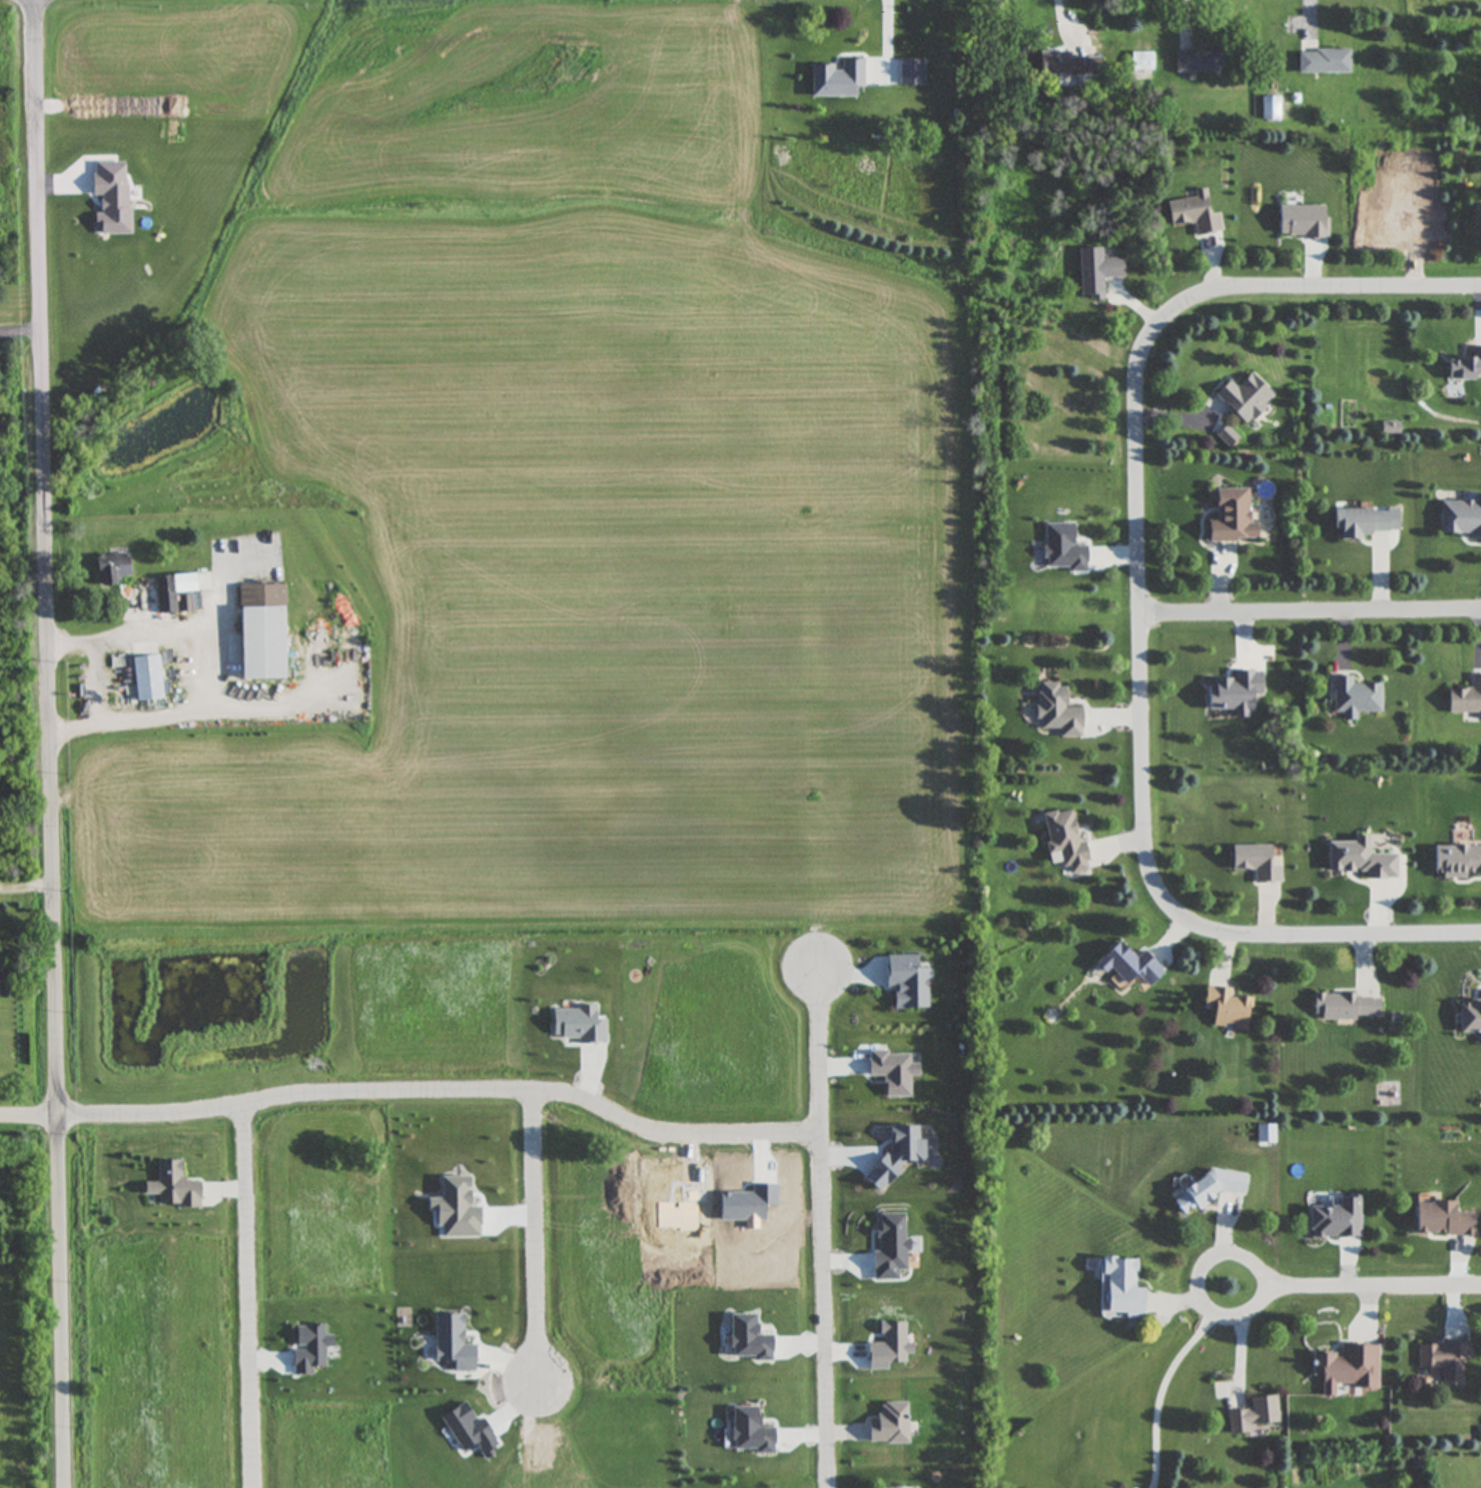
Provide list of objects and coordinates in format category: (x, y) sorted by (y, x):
building: (1135, 62)
building: (1198, 63)
building: (1324, 63)
building: (1068, 65)
building: (1193, 214)
building: (1094, 273)
road: (21, 330)
building: (1465, 366)
building: (1242, 396)
building: (1229, 516)
building: (1460, 516)
building: (1358, 521)
building: (110, 567)
building: (173, 591)
road: (1308, 603)
road: (1136, 604)
building: (259, 631)
road: (161, 634)
building: (144, 676)
building: (1353, 696)
building: (1466, 697)
building: (1055, 710)
road: (187, 716)
road: (49, 744)
building: (1063, 841)
building: (1456, 861)
building: (1253, 862)
building: (1126, 964)
building: (1345, 1006)
building: (1226, 1008)
building: (1469, 1017)
road: (414, 1093)
building: (1207, 1188)
building: (1334, 1218)
building: (1441, 1219)
road: (823, 1224)
road: (534, 1244)
building: (1119, 1289)
road: (1352, 1290)
road: (251, 1295)
building: (1443, 1359)
building: (1345, 1368)
road: (1162, 1380)
building: (1251, 1415)
building: (888, 1424)
building: (887, 1486)

